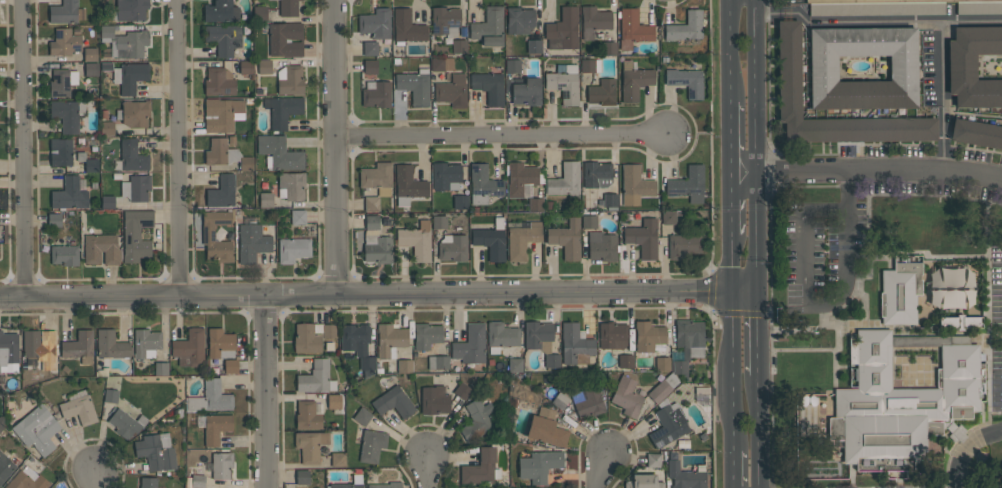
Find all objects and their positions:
building: (889, 6)
building: (288, 7)
road: (757, 7)
building: (935, 7)
building: (129, 9)
building: (221, 11)
building: (65, 12)
building: (259, 13)
road: (769, 13)
road: (786, 13)
road: (801, 15)
building: (519, 20)
building: (445, 21)
building: (593, 21)
road: (874, 21)
building: (376, 23)
building: (407, 27)
building: (489, 27)
building: (685, 27)
building: (633, 29)
building: (562, 30)
road: (939, 31)
building: (223, 38)
building: (286, 39)
building: (64, 42)
building: (124, 42)
building: (458, 46)
building: (534, 46)
building: (370, 48)
building: (609, 48)
road: (732, 51)
building: (90, 54)
building: (441, 64)
building: (106, 65)
building: (589, 65)
building: (512, 66)
building: (973, 66)
building: (246, 67)
building: (264, 67)
building: (370, 67)
building: (91, 68)
building: (823, 68)
building: (788, 69)
building: (130, 76)
building: (289, 79)
building: (62, 81)
building: (633, 81)
building: (686, 81)
building: (218, 82)
building: (564, 83)
building: (414, 86)
building: (489, 87)
building: (452, 91)
building: (527, 92)
building: (602, 92)
building: (376, 94)
building: (282, 110)
building: (134, 113)
building: (67, 114)
building: (221, 114)
building: (106, 128)
building: (976, 133)
road: (702, 134)
road: (505, 136)
road: (733, 138)
road: (943, 138)
building: (231, 140)
road: (339, 145)
road: (27, 147)
road: (180, 148)
building: (60, 152)
building: (220, 152)
building: (279, 153)
road: (759, 155)
building: (131, 157)
building: (87, 162)
building: (246, 164)
road: (838, 172)
road: (973, 174)
building: (596, 175)
building: (445, 176)
building: (377, 178)
building: (520, 178)
building: (565, 180)
building: (483, 184)
building: (687, 184)
building: (408, 185)
building: (635, 185)
building: (291, 186)
building: (136, 187)
road: (734, 188)
road: (847, 191)
building: (222, 192)
building: (70, 193)
building: (265, 199)
building: (107, 201)
building: (610, 201)
building: (460, 202)
building: (371, 203)
building: (535, 204)
building: (298, 216)
building: (668, 217)
road: (734, 219)
building: (54, 220)
building: (589, 221)
building: (439, 222)
building: (208, 233)
building: (144, 234)
building: (135, 235)
building: (643, 237)
building: (566, 239)
building: (251, 240)
building: (416, 240)
building: (491, 240)
building: (522, 240)
building: (375, 243)
building: (683, 245)
building: (602, 246)
building: (452, 247)
building: (101, 249)
building: (292, 250)
building: (64, 255)
road: (734, 265)
building: (948, 286)
road: (366, 291)
building: (901, 291)
road: (747, 296)
road: (806, 298)
building: (968, 322)
building: (427, 335)
building: (612, 335)
road: (761, 335)
building: (312, 336)
building: (501, 336)
building: (538, 336)
building: (648, 336)
building: (355, 338)
building: (689, 338)
building: (390, 340)
building: (146, 343)
building: (220, 343)
building: (111, 345)
building: (470, 345)
building: (575, 345)
building: (79, 347)
building: (39, 348)
building: (189, 348)
building: (8, 352)
building: (551, 360)
building: (624, 361)
building: (437, 362)
building: (662, 363)
building: (366, 365)
building: (515, 365)
building: (230, 366)
building: (404, 366)
building: (679, 367)
building: (161, 368)
road: (734, 372)
building: (316, 378)
building: (663, 388)
road: (269, 390)
building: (462, 390)
building: (111, 395)
building: (627, 397)
building: (210, 398)
building: (393, 400)
building: (434, 400)
building: (560, 400)
building: (334, 402)
building: (588, 402)
building: (904, 402)
building: (78, 407)
building: (307, 415)
building: (362, 416)
building: (477, 419)
building: (1, 422)
building: (126, 423)
building: (668, 423)
building: (215, 428)
building: (546, 428)
building: (37, 430)
road: (761, 431)
building: (310, 445)
building: (371, 445)
road: (965, 448)
building: (156, 451)
building: (338, 459)
building: (653, 460)
building: (222, 465)
building: (539, 465)
building: (5, 467)
building: (481, 468)
road: (734, 468)
road: (603, 473)
road: (429, 475)
building: (685, 476)
building: (302, 477)
building: (27, 481)
road: (95, 481)
building: (198, 481)
building: (644, 481)
building: (148, 482)
building: (344, 485)
building: (385, 485)

